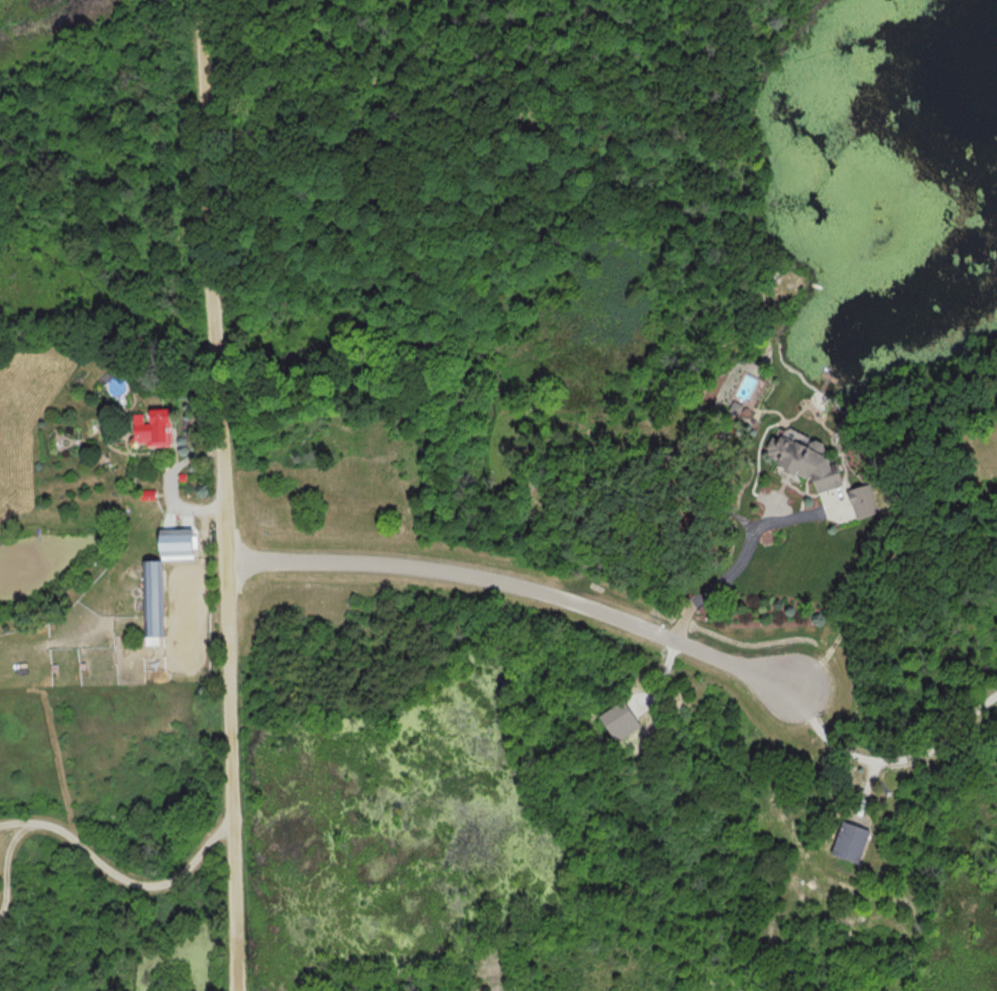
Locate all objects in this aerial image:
building: (156, 427)
building: (811, 457)
road: (227, 495)
building: (865, 500)
building: (183, 540)
road: (738, 564)
road: (522, 589)
building: (156, 601)
road: (892, 756)
road: (14, 821)
building: (857, 841)
road: (4, 860)
road: (138, 883)

